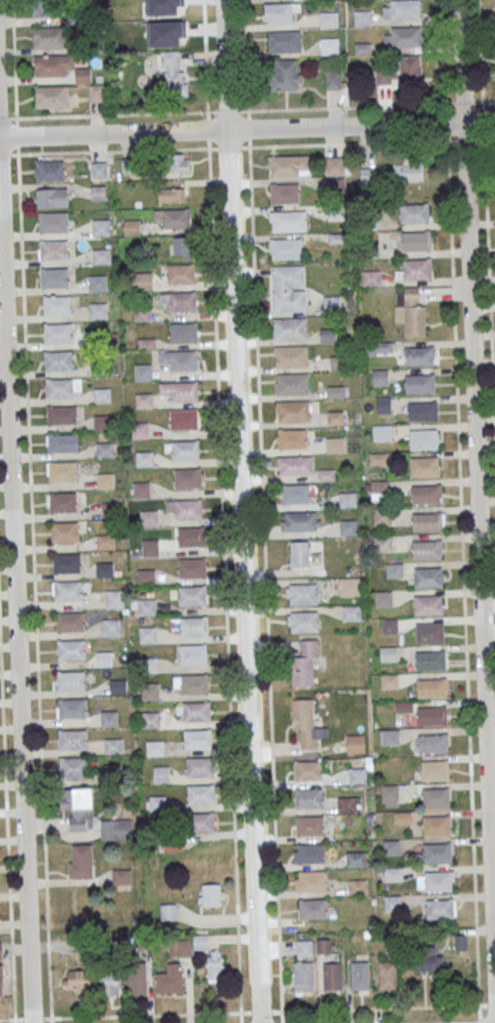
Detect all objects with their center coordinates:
building: (45, 8)
building: (402, 9)
building: (281, 13)
building: (168, 18)
building: (362, 18)
building: (329, 19)
building: (130, 36)
building: (402, 36)
building: (51, 38)
building: (284, 41)
building: (329, 46)
building: (53, 65)
building: (398, 70)
building: (172, 72)
road: (246, 73)
road: (205, 74)
building: (83, 75)
building: (286, 75)
road: (14, 77)
building: (96, 93)
building: (51, 96)
road: (247, 110)
road: (479, 123)
road: (231, 130)
road: (372, 142)
building: (180, 163)
building: (289, 166)
building: (334, 166)
building: (50, 170)
building: (99, 170)
building: (412, 170)
building: (98, 193)
building: (284, 193)
building: (171, 194)
building: (52, 197)
building: (414, 213)
building: (174, 218)
building: (53, 221)
building: (288, 221)
building: (100, 227)
building: (132, 227)
road: (486, 231)
building: (416, 240)
building: (181, 245)
building: (286, 249)
building: (53, 250)
building: (101, 256)
building: (417, 269)
building: (180, 274)
building: (54, 278)
building: (371, 278)
building: (143, 281)
building: (97, 282)
building: (288, 288)
building: (180, 301)
building: (332, 302)
building: (56, 305)
building: (98, 310)
building: (412, 310)
building: (290, 328)
building: (184, 332)
building: (57, 333)
building: (328, 335)
building: (81, 338)
building: (378, 348)
building: (291, 356)
building: (418, 356)
building: (57, 360)
building: (179, 360)
building: (339, 362)
building: (142, 371)
building: (380, 377)
building: (292, 383)
building: (420, 383)
building: (62, 387)
building: (179, 392)
building: (336, 392)
building: (101, 395)
building: (143, 400)
building: (383, 405)
building: (292, 410)
building: (422, 411)
building: (61, 414)
building: (335, 417)
building: (184, 419)
building: (102, 422)
building: (382, 432)
building: (291, 438)
building: (423, 439)
building: (64, 442)
building: (335, 444)
building: (105, 450)
building: (185, 450)
building: (294, 465)
building: (424, 466)
building: (62, 471)
building: (187, 478)
building: (105, 480)
building: (141, 490)
building: (297, 493)
building: (426, 494)
building: (348, 499)
building: (62, 502)
building: (184, 509)
road: (240, 511)
road: (460, 511)
road: (476, 511)
building: (148, 518)
building: (300, 521)
building: (427, 522)
building: (64, 532)
building: (190, 537)
building: (105, 541)
building: (150, 548)
building: (426, 549)
building: (299, 553)
building: (66, 563)
building: (191, 567)
building: (105, 570)
building: (395, 570)
building: (146, 576)
building: (428, 577)
building: (350, 586)
road: (16, 588)
building: (67, 591)
building: (302, 593)
building: (193, 595)
building: (383, 599)
building: (428, 604)
building: (147, 606)
building: (351, 613)
building: (70, 622)
building: (303, 622)
building: (391, 626)
building: (111, 627)
building: (189, 627)
building: (429, 633)
building: (148, 635)
building: (71, 649)
building: (193, 654)
building: (388, 654)
building: (430, 660)
building: (305, 663)
building: (149, 665)
building: (71, 681)
building: (388, 681)
building: (190, 684)
building: (118, 686)
building: (431, 687)
building: (149, 691)
building: (73, 708)
building: (193, 711)
building: (431, 716)
building: (108, 718)
building: (151, 719)
building: (307, 723)
building: (389, 737)
building: (72, 739)
building: (197, 739)
building: (432, 743)
building: (355, 744)
building: (113, 745)
building: (155, 747)
building: (200, 766)
building: (73, 767)
building: (308, 770)
building: (435, 770)
building: (160, 774)
building: (357, 775)
road: (41, 778)
building: (201, 794)
building: (389, 796)
building: (308, 797)
building: (435, 798)
building: (157, 803)
building: (348, 804)
building: (92, 815)
building: (203, 822)
building: (309, 825)
building: (437, 825)
building: (437, 852)
building: (309, 853)
building: (356, 859)
building: (81, 862)
building: (121, 876)
building: (311, 880)
building: (438, 880)
building: (357, 886)
building: (210, 894)
building: (391, 903)
building: (313, 908)
building: (439, 908)
building: (168, 912)
road: (278, 915)
building: (201, 941)
building: (461, 942)
building: (304, 947)
building: (180, 948)
building: (0, 949)
building: (426, 958)
building: (214, 965)
building: (388, 975)
building: (332, 976)
building: (304, 977)
building: (359, 977)
building: (77, 979)
building: (137, 979)
building: (170, 980)
building: (1, 981)
building: (109, 984)
road: (388, 1007)
road: (151, 1014)
road: (282, 1017)
road: (7, 1019)
road: (51, 1020)
road: (14, 1021)

